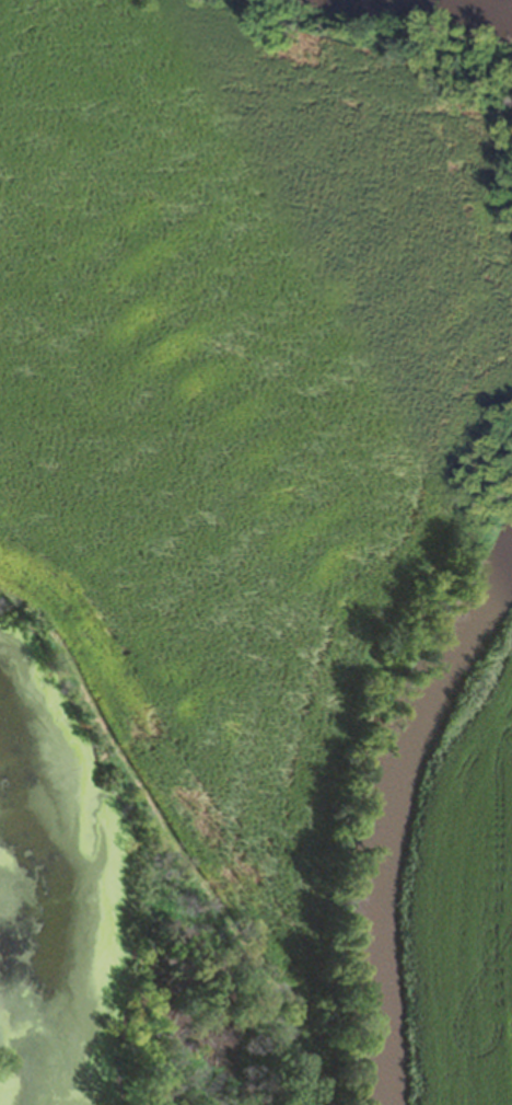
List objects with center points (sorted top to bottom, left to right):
river: (421, 24)
river: (393, 816)

